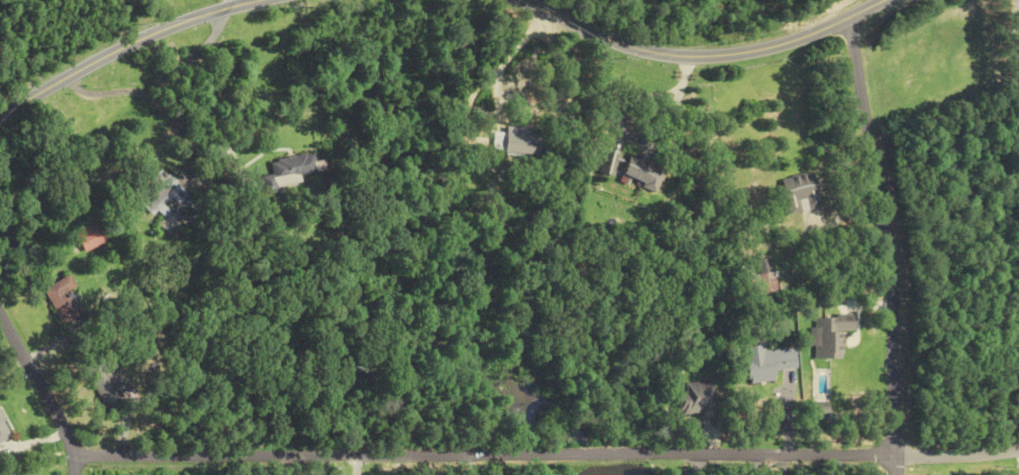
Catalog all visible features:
road: (237, 3)
road: (126, 47)
road: (704, 54)
road: (497, 68)
road: (195, 102)
building: (517, 141)
building: (607, 163)
building: (634, 169)
building: (285, 172)
building: (159, 193)
building: (799, 193)
building: (92, 234)
road: (889, 236)
building: (760, 282)
building: (66, 300)
building: (829, 336)
building: (768, 360)
building: (110, 385)
road: (44, 389)
building: (697, 399)
building: (4, 430)
road: (957, 455)
road: (487, 456)
road: (895, 465)

